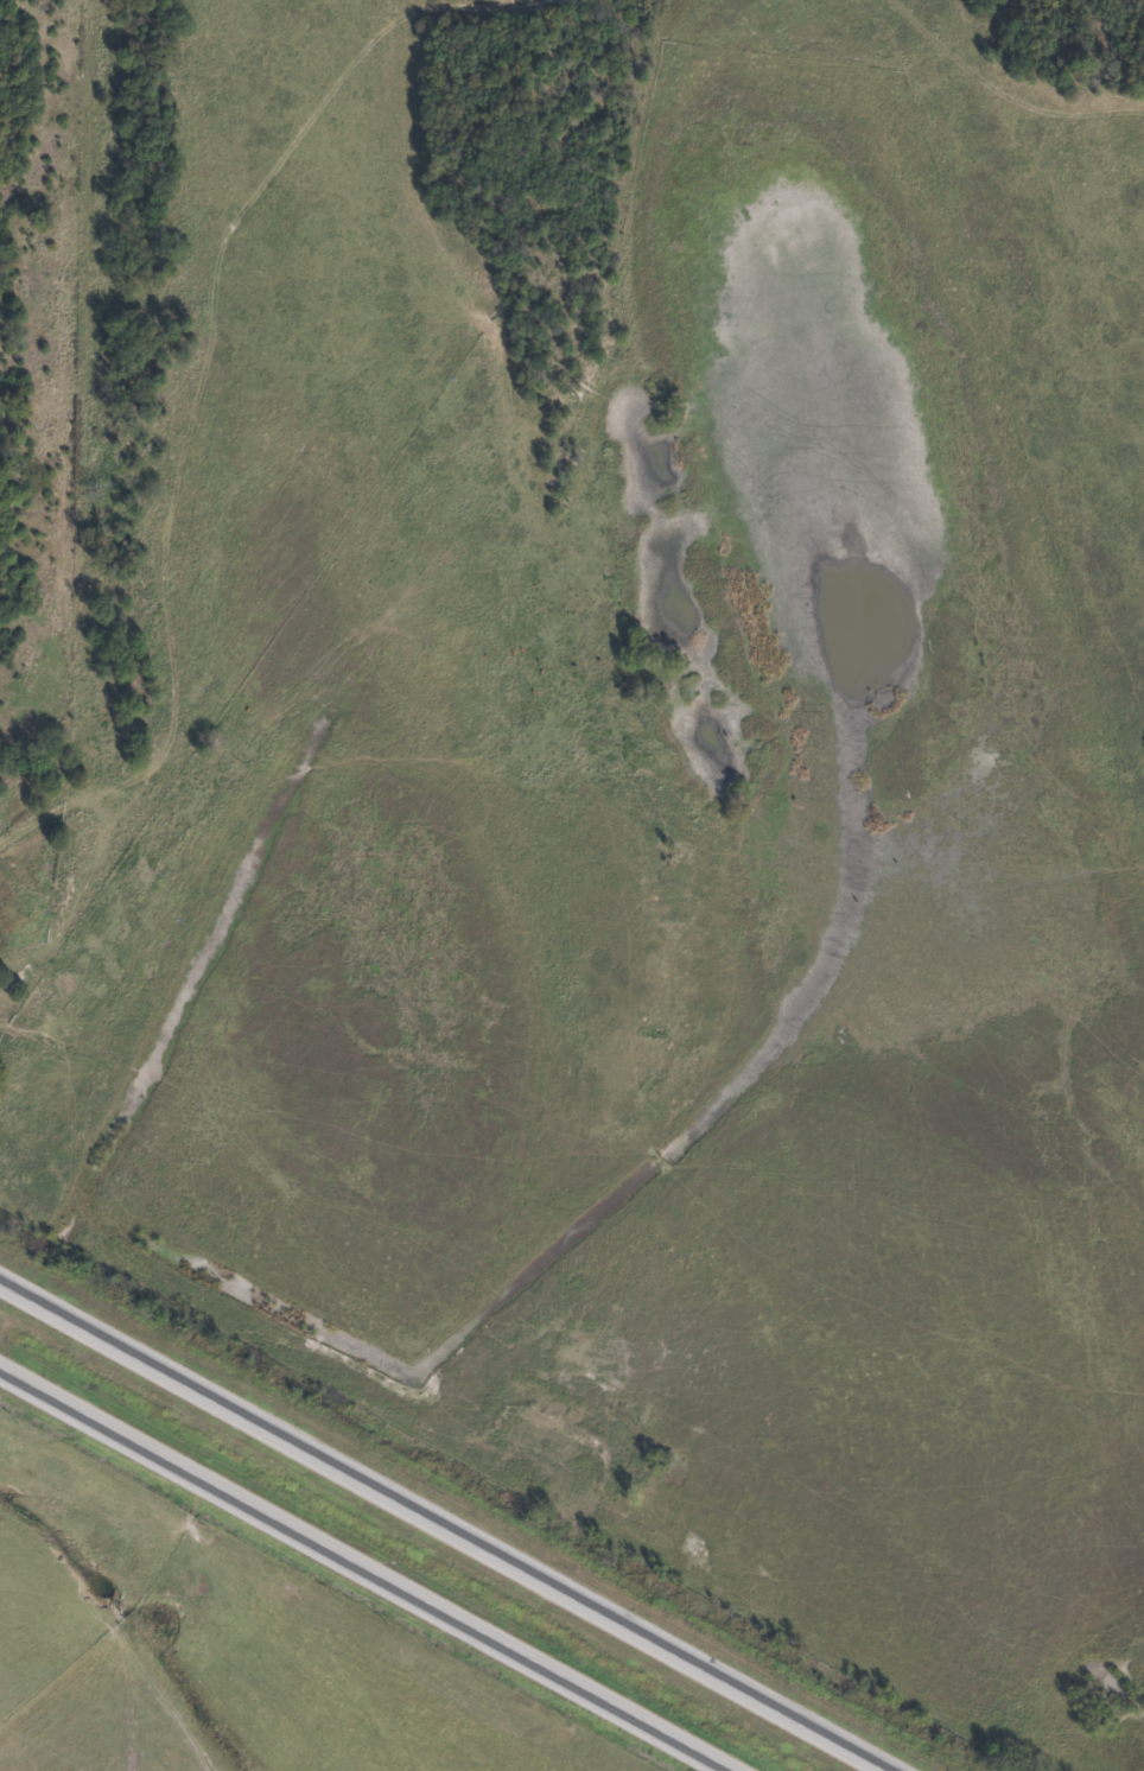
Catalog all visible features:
road: (443, 1526)
road: (363, 1570)

